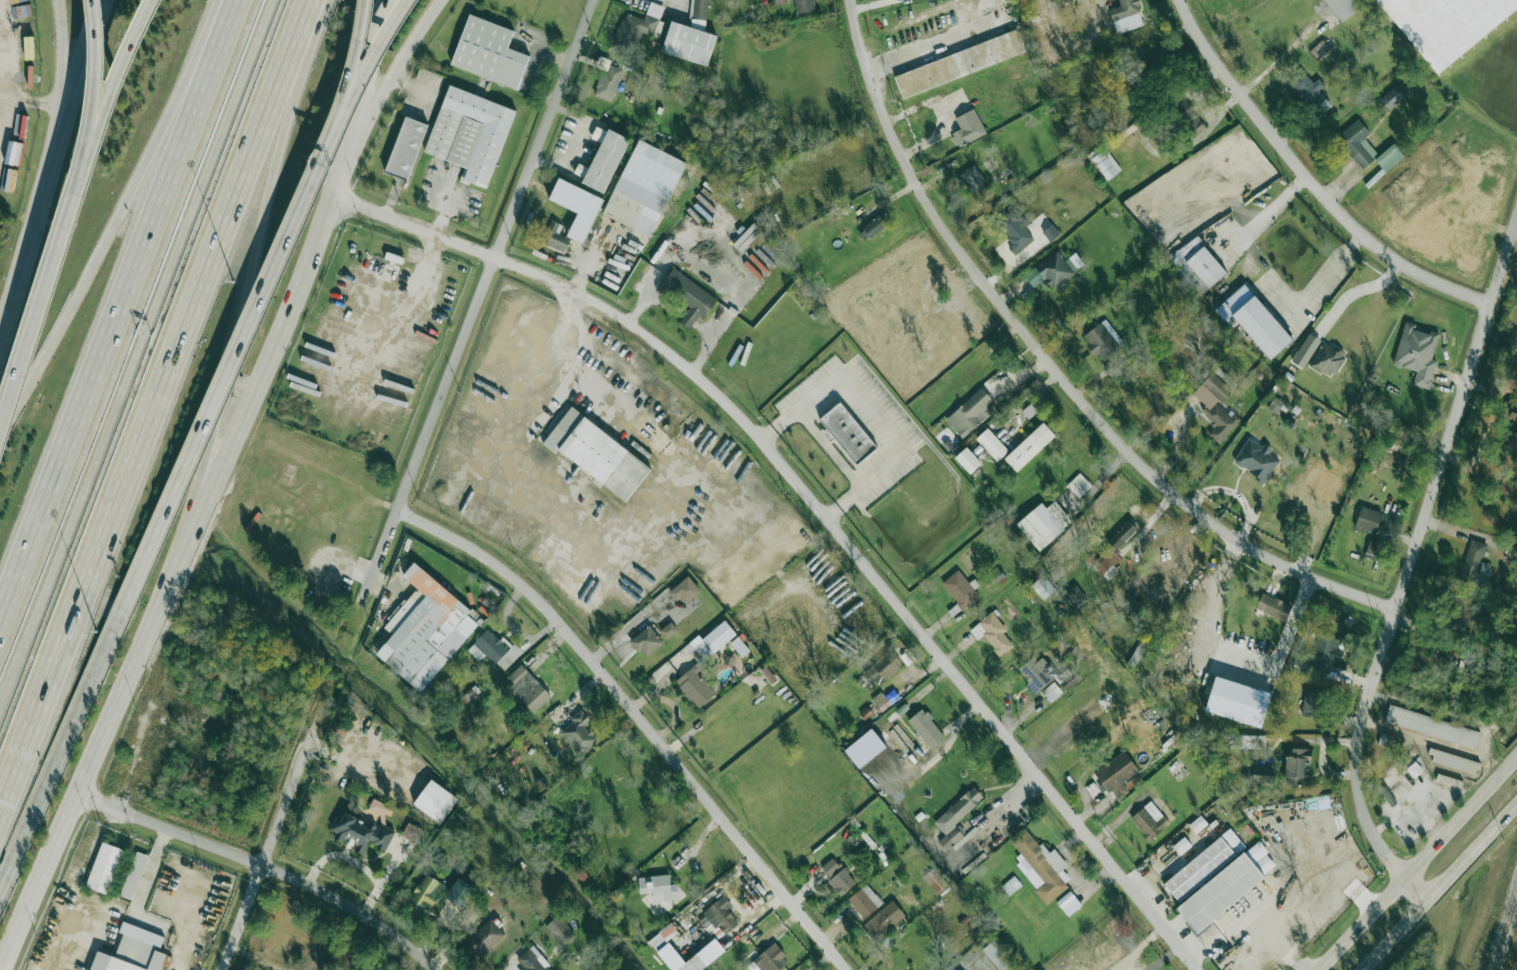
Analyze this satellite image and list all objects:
building: (1235, 1)
building: (896, 3)
building: (798, 5)
building: (1344, 8)
building: (700, 12)
building: (1127, 16)
building: (1447, 24)
road: (313, 25)
building: (639, 26)
building: (689, 43)
road: (73, 51)
road: (90, 51)
road: (911, 52)
building: (489, 53)
road: (377, 56)
road: (359, 57)
building: (958, 64)
road: (8, 72)
road: (120, 76)
road: (367, 76)
road: (392, 76)
road: (99, 78)
building: (608, 82)
road: (412, 86)
building: (1393, 98)
road: (56, 102)
road: (4, 111)
building: (967, 128)
building: (470, 134)
building: (1358, 143)
building: (406, 149)
building: (1390, 158)
building: (606, 161)
building: (1105, 165)
building: (973, 179)
road: (1308, 180)
road: (392, 196)
road: (445, 200)
building: (631, 204)
road: (458, 207)
building: (579, 208)
road: (1265, 212)
road: (120, 217)
building: (874, 226)
road: (39, 232)
building: (1015, 232)
building: (1051, 233)
building: (556, 239)
building: (1202, 262)
road: (255, 269)
road: (1331, 269)
building: (1054, 270)
road: (415, 271)
road: (708, 271)
road: (1355, 290)
road: (480, 293)
building: (688, 296)
road: (45, 303)
road: (119, 305)
building: (959, 318)
building: (1257, 321)
road: (284, 322)
building: (1103, 342)
road: (2, 347)
road: (134, 350)
building: (1306, 351)
building: (1417, 354)
building: (1327, 361)
road: (556, 363)
road: (1052, 367)
building: (1275, 405)
building: (1216, 406)
road: (216, 407)
road: (872, 409)
building: (970, 413)
building: (848, 433)
road: (153, 444)
building: (991, 444)
building: (1031, 445)
building: (597, 453)
building: (966, 458)
building: (1257, 459)
building: (1079, 485)
building: (1508, 487)
road: (821, 510)
road: (651, 511)
building: (1368, 519)
building: (1044, 524)
building: (1122, 535)
building: (1372, 549)
building: (1473, 561)
building: (1107, 564)
road: (1408, 564)
building: (1043, 587)
building: (960, 589)
building: (685, 590)
building: (1076, 595)
building: (1274, 606)
building: (1459, 610)
road: (1291, 619)
building: (807, 626)
building: (668, 630)
building: (992, 633)
building: (718, 636)
building: (431, 637)
building: (646, 641)
building: (739, 646)
building: (1327, 648)
building: (495, 651)
building: (882, 669)
building: (1317, 669)
building: (1035, 673)
building: (769, 675)
building: (695, 687)
building: (528, 689)
building: (1052, 692)
building: (881, 701)
building: (1238, 701)
building: (1312, 704)
building: (866, 712)
road: (640, 720)
building: (1432, 726)
road: (105, 728)
building: (926, 729)
building: (579, 733)
building: (1391, 741)
building: (1452, 760)
building: (1298, 766)
building: (1414, 769)
building: (1248, 772)
building: (1117, 774)
building: (1262, 774)
road: (42, 789)
building: (1387, 795)
building: (435, 801)
building: (378, 806)
building: (957, 814)
building: (1210, 814)
building: (1149, 820)
building: (361, 832)
building: (412, 832)
building: (868, 840)
building: (1182, 844)
road: (266, 852)
road: (1417, 863)
building: (1205, 865)
building: (1042, 866)
road: (263, 867)
building: (830, 867)
building: (105, 868)
road: (149, 868)
building: (134, 875)
building: (842, 882)
building: (936, 882)
building: (1011, 885)
building: (658, 887)
building: (1287, 887)
road: (1439, 887)
building: (427, 892)
building: (1220, 892)
building: (460, 893)
building: (865, 901)
building: (1069, 903)
building: (720, 915)
building: (885, 920)
road: (1229, 922)
building: (561, 930)
railway: (1505, 934)
building: (484, 939)
road: (1279, 939)
building: (663, 947)
building: (130, 957)
building: (998, 957)
road: (1164, 957)
road: (257, 958)
building: (771, 959)
building: (532, 962)

